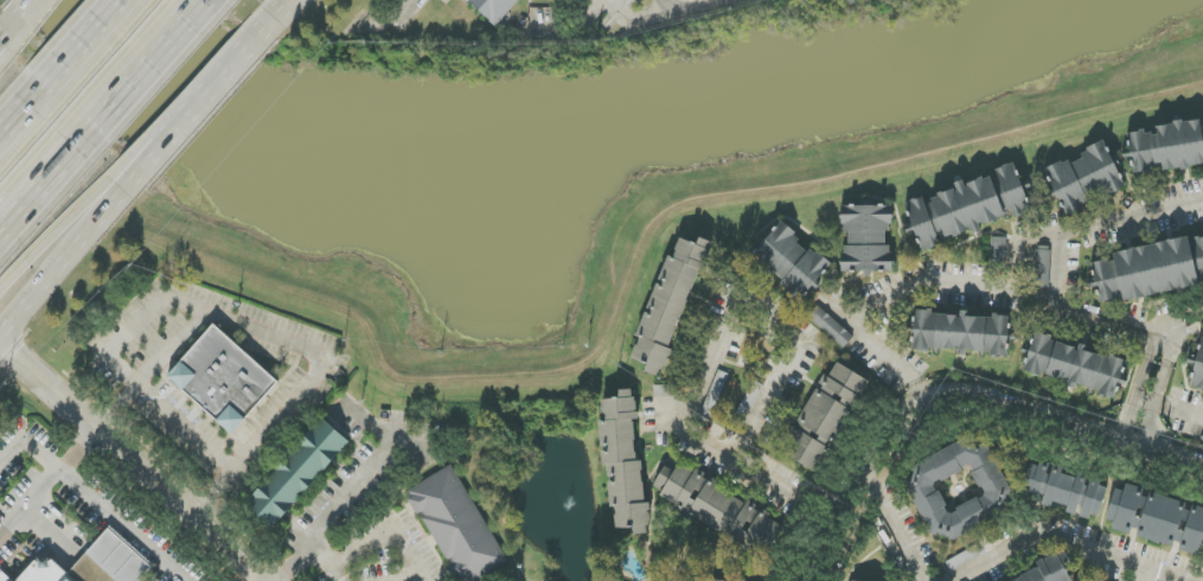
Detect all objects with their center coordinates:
road: (215, 1)
road: (677, 6)
building: (493, 8)
road: (17, 18)
road: (277, 21)
road: (660, 21)
road: (567, 23)
road: (30, 26)
road: (390, 26)
road: (0, 37)
road: (88, 45)
road: (5, 59)
road: (155, 69)
road: (233, 72)
road: (25, 117)
road: (169, 136)
road: (173, 140)
building: (1084, 178)
road: (49, 190)
building: (967, 207)
road: (1089, 223)
road: (64, 234)
building: (866, 238)
building: (998, 251)
road: (69, 257)
building: (791, 262)
building: (1042, 267)
road: (1057, 267)
building: (1159, 268)
road: (960, 280)
building: (1105, 281)
building: (668, 305)
road: (134, 325)
building: (830, 326)
building: (960, 332)
road: (287, 339)
road: (792, 360)
building: (1075, 365)
building: (1198, 368)
building: (223, 378)
road: (1137, 388)
road: (1157, 395)
road: (1023, 411)
road: (1189, 411)
road: (184, 428)
road: (695, 433)
road: (30, 443)
road: (127, 462)
building: (623, 462)
building: (297, 473)
building: (1036, 479)
road: (45, 481)
building: (959, 489)
building: (1064, 490)
building: (1094, 499)
road: (339, 507)
building: (718, 509)
road: (830, 517)
building: (1156, 518)
road: (891, 521)
road: (121, 525)
building: (456, 525)
road: (392, 536)
road: (1048, 537)
road: (320, 550)
building: (96, 564)
building: (1048, 570)
road: (333, 572)
road: (1160, 574)
building: (4, 577)
building: (677, 580)
building: (1101, 580)

